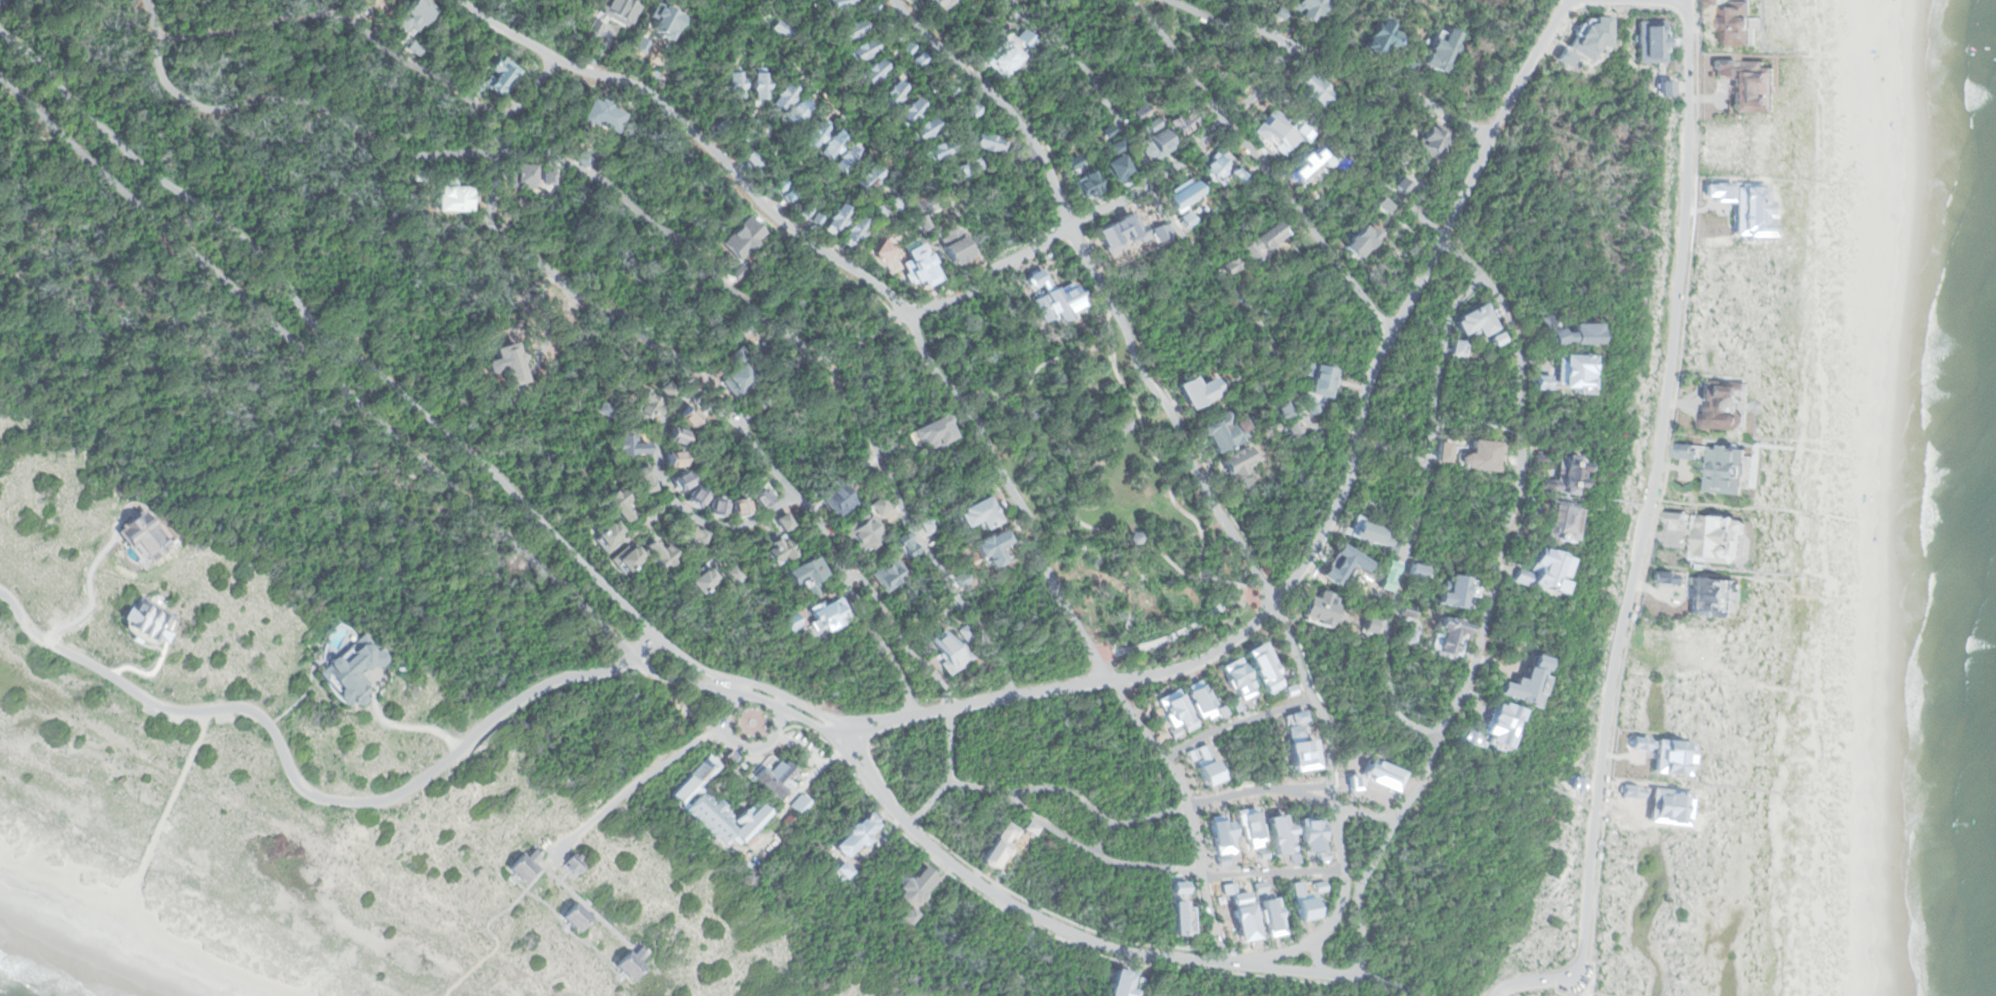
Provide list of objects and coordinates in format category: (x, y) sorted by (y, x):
building: (375, 1)
building: (378, 1)
road: (2, 2)
building: (837, 3)
building: (868, 5)
building: (938, 5)
building: (1298, 10)
building: (412, 15)
building: (1728, 19)
building: (886, 23)
building: (780, 29)
building: (850, 29)
building: (896, 36)
building: (1592, 36)
building: (1023, 37)
building: (1379, 38)
building: (1652, 42)
building: (414, 47)
building: (907, 48)
building: (1438, 48)
building: (861, 49)
building: (1004, 58)
building: (1563, 58)
building: (918, 59)
road: (1330, 63)
building: (1391, 67)
building: (872, 72)
building: (498, 75)
building: (735, 81)
building: (759, 85)
building: (1749, 85)
building: (1665, 87)
building: (949, 88)
building: (1313, 88)
building: (892, 93)
building: (784, 96)
building: (971, 110)
building: (796, 112)
building: (909, 112)
building: (1134, 113)
building: (1182, 121)
building: (721, 124)
building: (1148, 124)
building: (924, 129)
building: (1108, 131)
building: (1275, 131)
building: (816, 134)
building: (1429, 140)
building: (738, 141)
building: (989, 142)
building: (1157, 144)
building: (832, 145)
building: (1113, 147)
building: (938, 149)
building: (845, 159)
building: (750, 161)
building: (1070, 162)
building: (1339, 164)
building: (973, 165)
road: (1262, 165)
building: (1303, 165)
building: (1214, 166)
building: (1115, 169)
building: (961, 171)
building: (1705, 171)
building: (1238, 175)
building: (525, 176)
building: (417, 177)
building: (870, 179)
building: (1085, 184)
building: (779, 185)
building: (1400, 185)
building: (789, 195)
building: (451, 199)
building: (895, 203)
road: (941, 204)
building: (1381, 205)
building: (805, 207)
building: (879, 210)
road: (646, 217)
building: (837, 217)
building: (818, 219)
building: (921, 224)
building: (853, 231)
building: (1261, 240)
building: (1360, 240)
building: (954, 244)
road: (1023, 253)
building: (1227, 264)
road: (614, 316)
building: (1475, 321)
building: (1571, 331)
building: (1496, 340)
building: (1458, 349)
building: (506, 362)
building: (736, 382)
road: (1151, 385)
road: (947, 388)
building: (666, 389)
building: (1197, 390)
road: (360, 404)
building: (648, 406)
building: (1723, 408)
building: (1281, 410)
building: (688, 416)
road: (430, 422)
building: (1225, 430)
building: (1291, 430)
building: (932, 432)
building: (676, 436)
building: (889, 443)
building: (630, 446)
building: (1448, 450)
building: (1688, 450)
building: (1486, 456)
building: (674, 459)
building: (1238, 462)
building: (1725, 468)
building: (1564, 474)
building: (643, 479)
building: (680, 481)
road: (1348, 481)
building: (759, 496)
building: (693, 497)
park: (1113, 498)
building: (618, 502)
road: (676, 504)
building: (714, 506)
building: (739, 506)
building: (879, 506)
building: (979, 515)
road: (1422, 515)
building: (1677, 517)
road: (1645, 518)
building: (1567, 521)
building: (782, 522)
building: (928, 526)
building: (862, 531)
building: (692, 535)
building: (1377, 535)
building: (608, 536)
building: (1716, 538)
building: (1128, 539)
building: (930, 541)
building: (906, 545)
building: (777, 549)
building: (660, 554)
building: (626, 559)
road: (1498, 566)
building: (1546, 567)
building: (889, 574)
building: (732, 575)
building: (804, 577)
building: (1662, 577)
building: (699, 578)
building: (1712, 596)
building: (1324, 608)
building: (828, 616)
building: (147, 620)
building: (789, 623)
building: (1373, 627)
building: (967, 632)
building: (1646, 632)
road: (899, 637)
road: (876, 643)
building: (1698, 649)
building: (949, 653)
building: (350, 669)
road: (747, 689)
road: (877, 717)
road: (870, 729)
road: (831, 737)
road: (739, 746)
building: (1666, 753)
building: (730, 757)
road: (950, 774)
building: (696, 780)
building: (774, 780)
road: (636, 785)
road: (310, 793)
road: (1074, 796)
building: (797, 810)
road: (1371, 813)
building: (748, 822)
building: (1032, 827)
building: (857, 834)
road: (1102, 836)
building: (1003, 846)
road: (1342, 848)
road: (1099, 856)
building: (573, 866)
building: (523, 867)
building: (844, 872)
road: (1342, 910)
road: (1362, 911)
building: (574, 917)
road: (1042, 918)
road: (1287, 953)
building: (629, 963)
road: (1293, 970)
road: (1357, 972)
road: (1392, 984)
building: (1122, 985)
road: (1590, 990)

